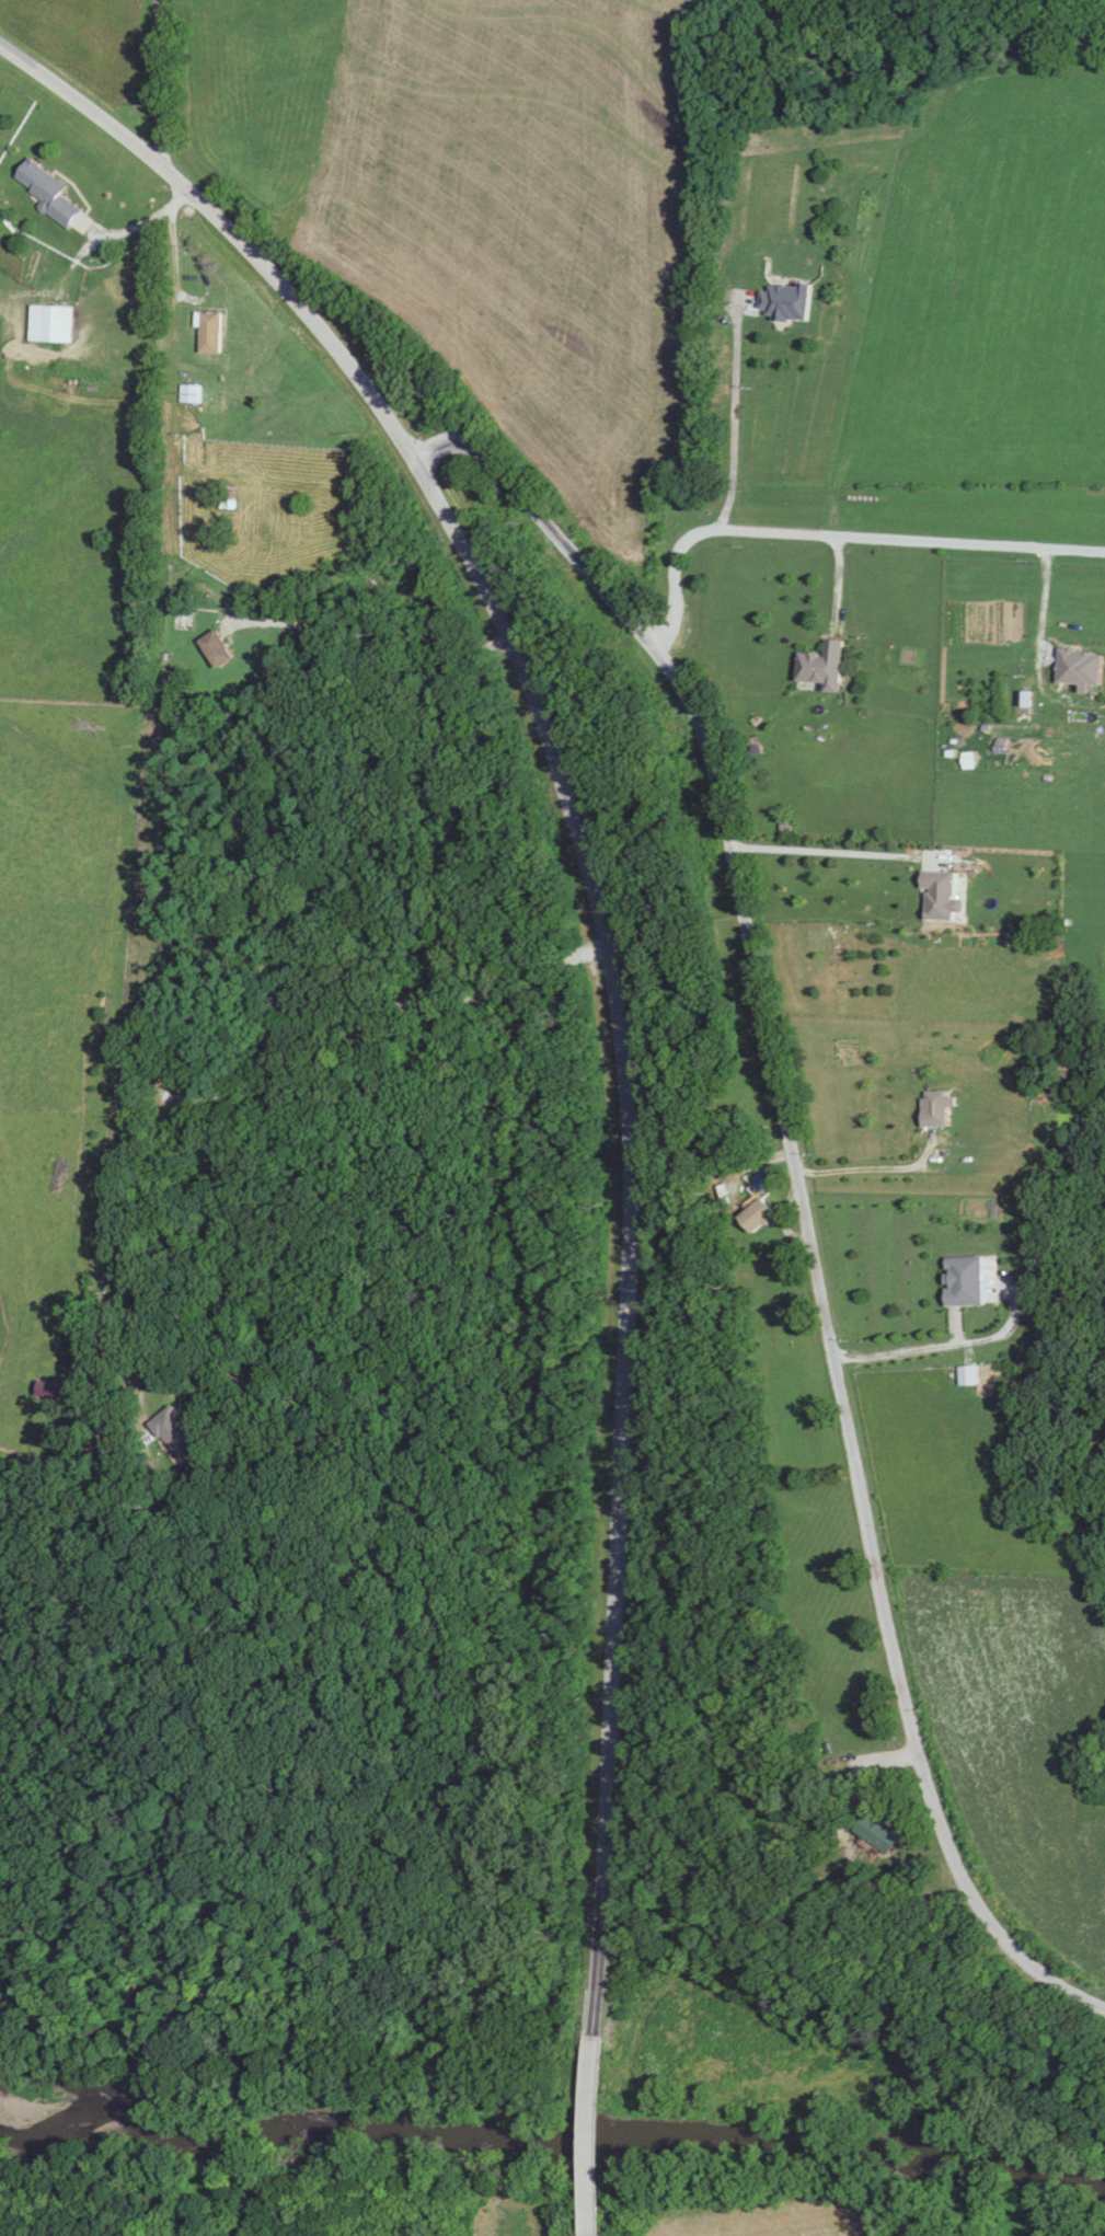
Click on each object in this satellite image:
building: (941, 54)
road: (160, 82)
building: (42, 189)
building: (784, 300)
building: (47, 323)
building: (206, 332)
building: (188, 393)
building: (193, 420)
road: (834, 535)
road: (365, 635)
building: (211, 647)
building: (818, 667)
building: (1075, 668)
road: (158, 800)
building: (936, 895)
road: (602, 937)
road: (874, 1172)
road: (803, 1188)
building: (752, 1214)
building: (958, 1280)
building: (171, 1430)
building: (871, 1830)
river: (552, 2135)
road: (589, 2137)
road: (585, 2233)

